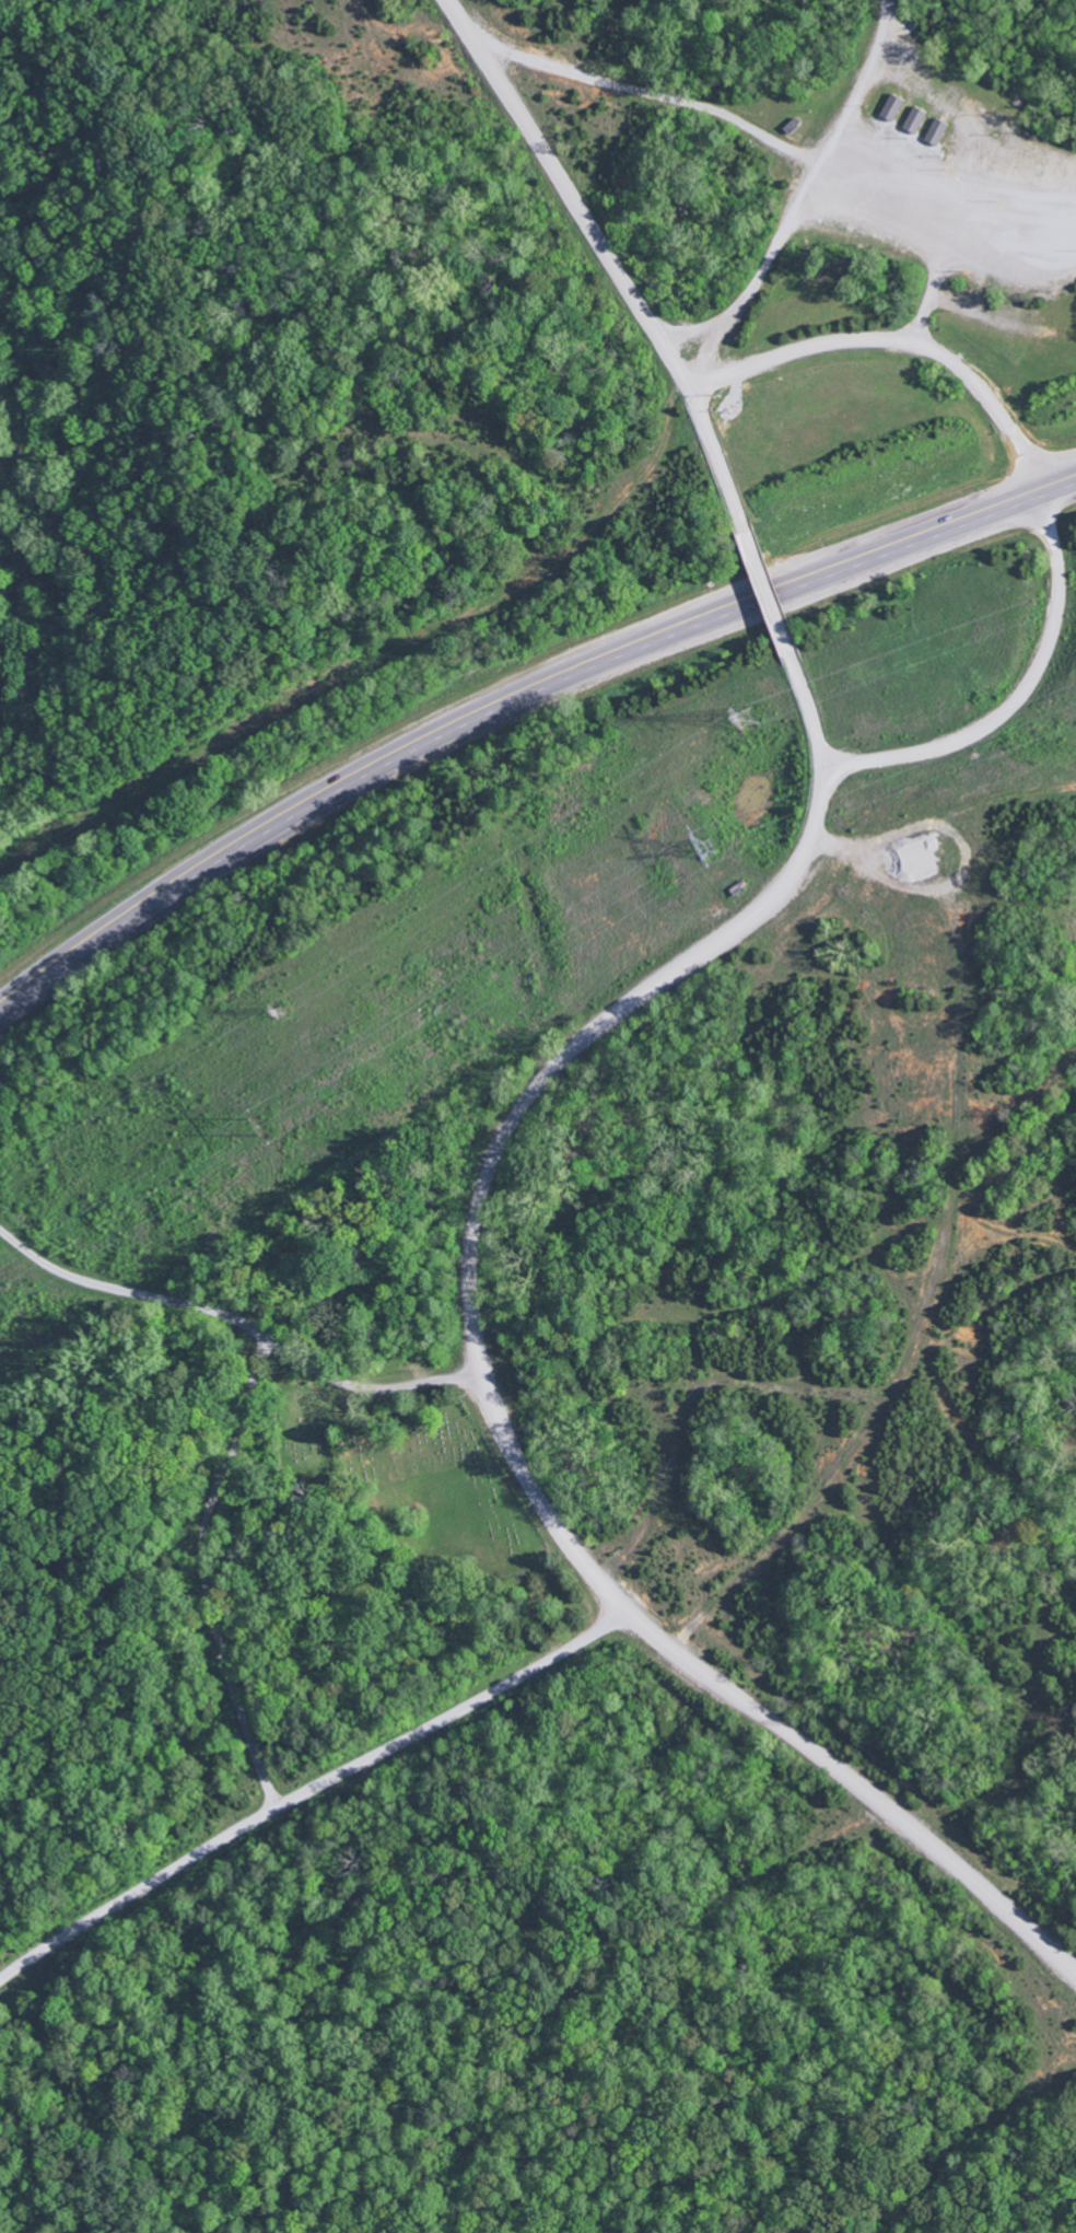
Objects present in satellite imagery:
road: (643, 89)
road: (974, 114)
building: (917, 119)
building: (939, 131)
road: (792, 209)
road: (928, 218)
road: (1003, 231)
road: (610, 259)
road: (1039, 490)
road: (769, 592)
road: (514, 694)
power tower: (751, 717)
power tower: (705, 846)
power tower: (281, 1010)
power tower: (262, 1124)
road: (239, 1319)
road: (482, 1366)
park: (500, 1517)
road: (206, 1573)
road: (311, 1789)

